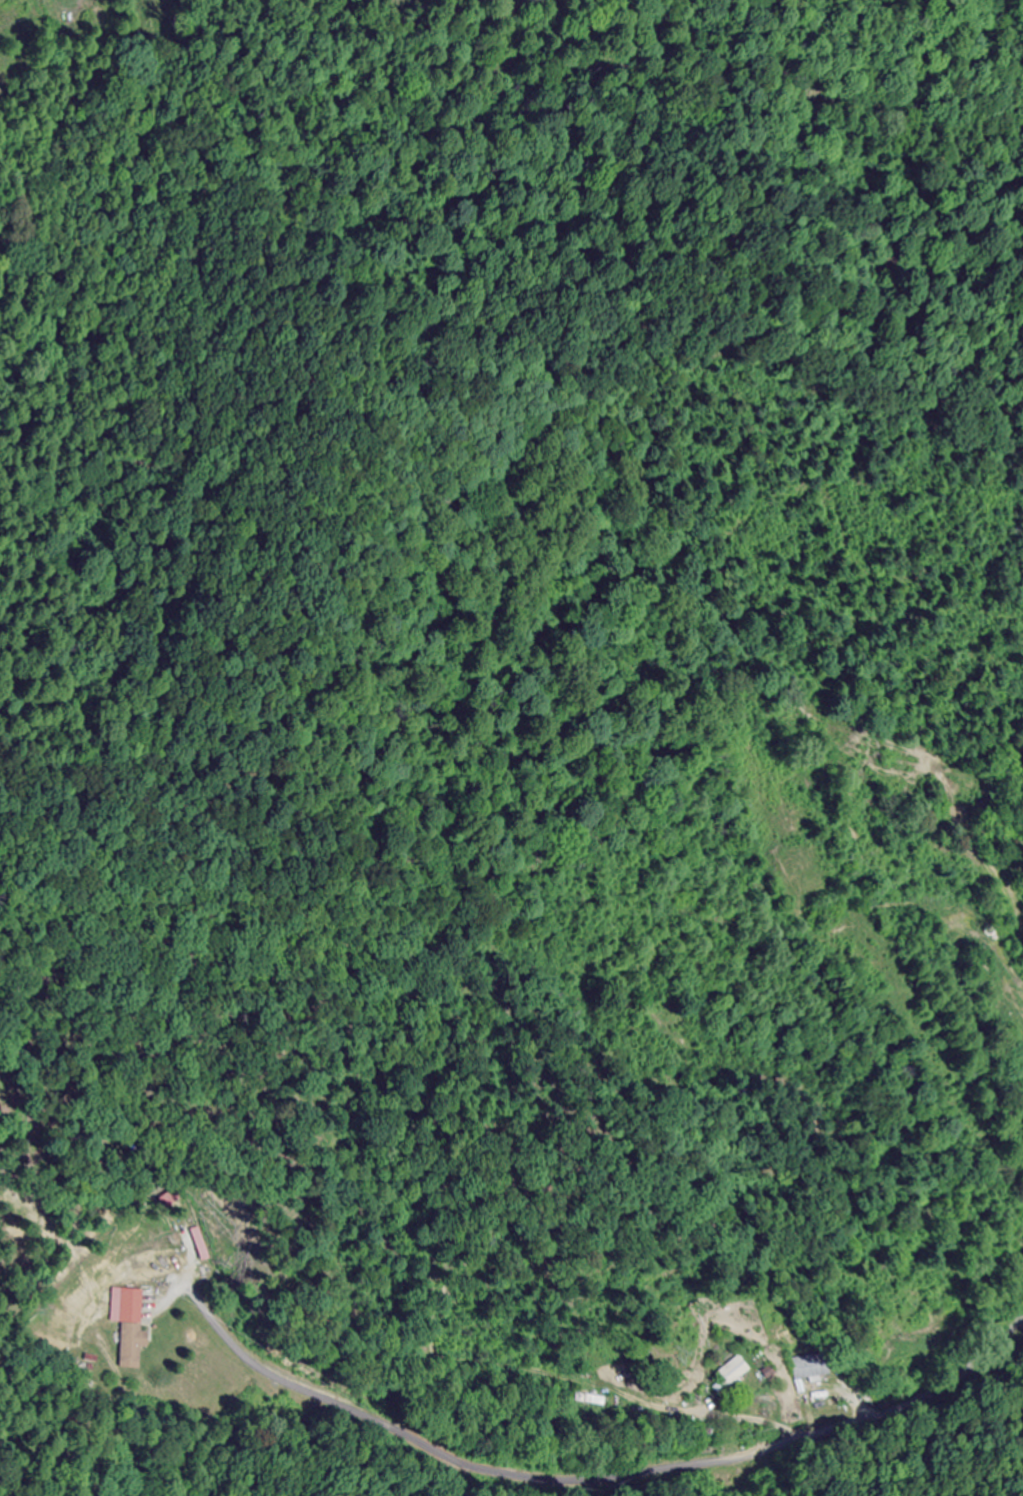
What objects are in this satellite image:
building: (133, 1328)
building: (806, 1369)
building: (726, 1372)
road: (921, 1397)
building: (588, 1400)
road: (919, 1445)

